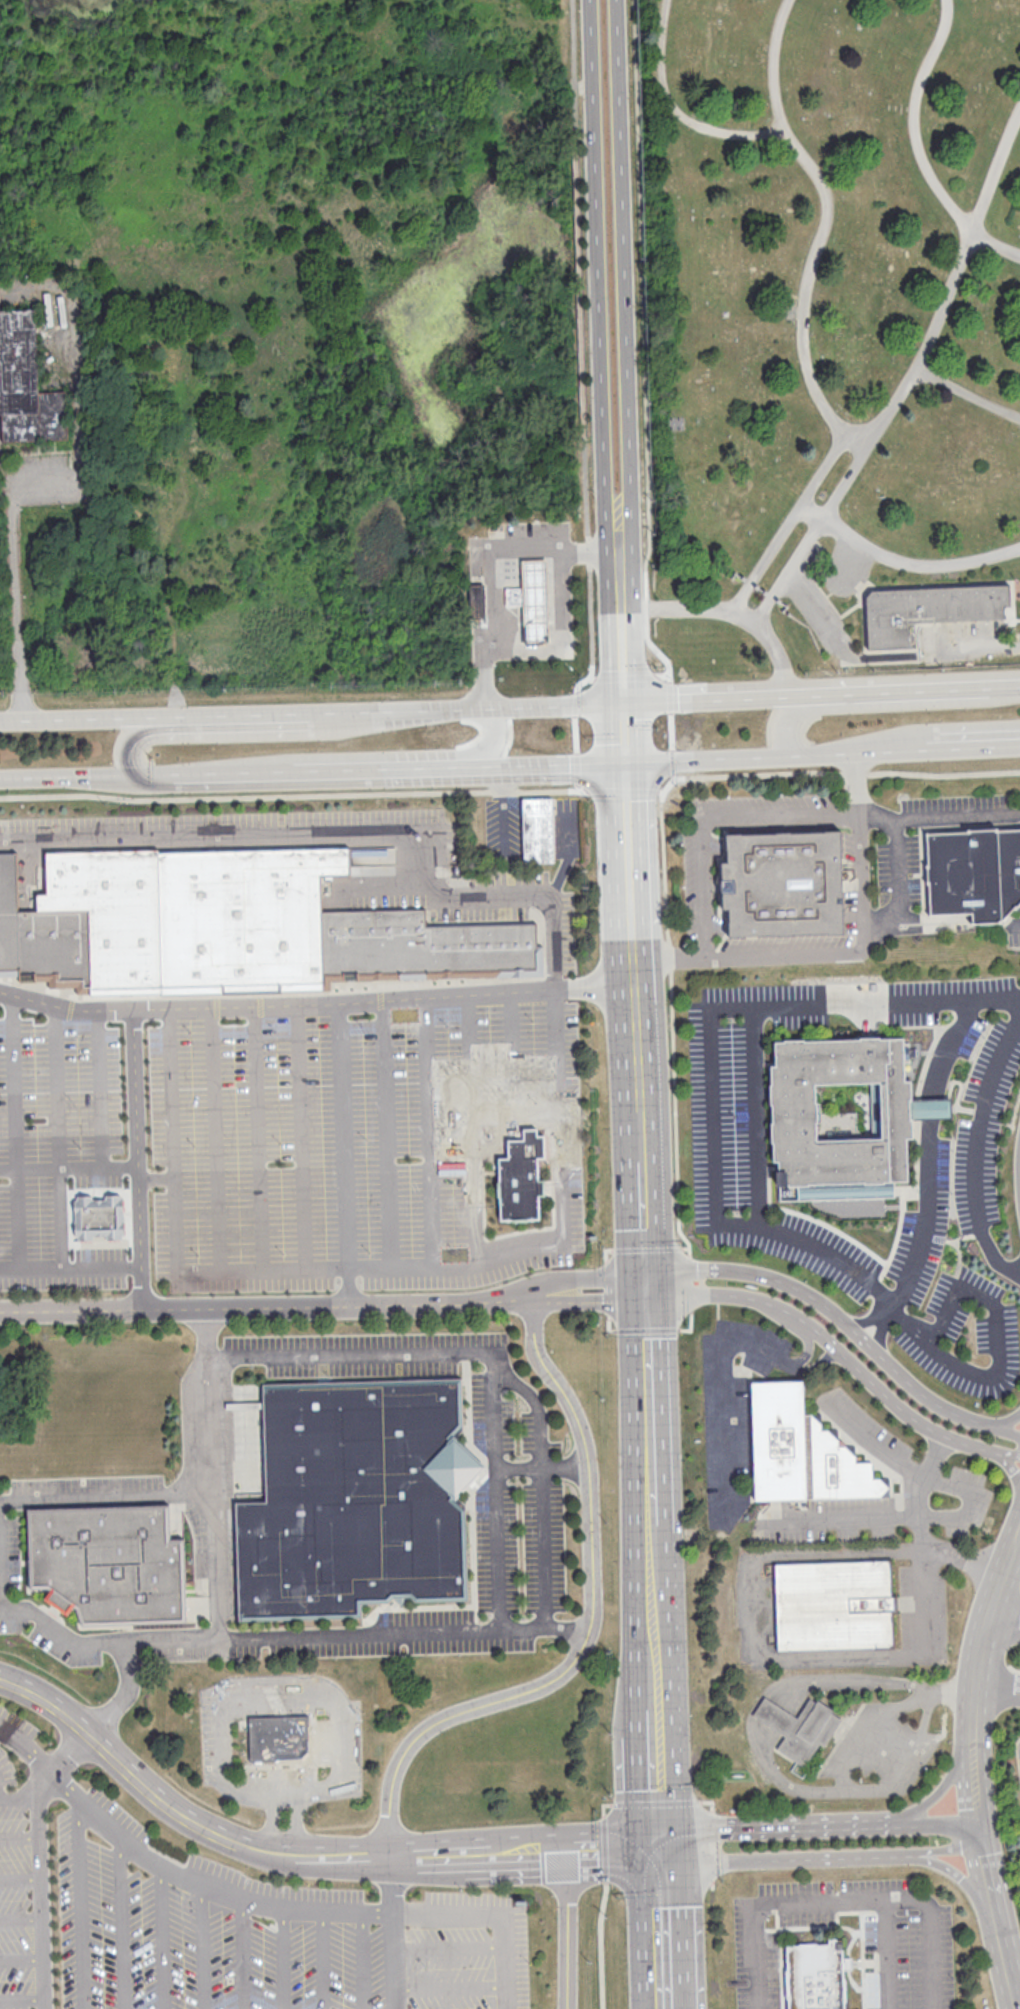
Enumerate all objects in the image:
road: (572, 70)
road: (674, 109)
road: (913, 122)
road: (825, 217)
road: (996, 246)
road: (579, 288)
road: (621, 291)
road: (599, 307)
park: (828, 333)
road: (643, 341)
road: (913, 380)
building: (26, 383)
road: (969, 396)
road: (801, 507)
road: (499, 552)
road: (916, 564)
road: (15, 590)
road: (627, 596)
building: (477, 599)
building: (535, 600)
road: (821, 611)
building: (928, 611)
road: (728, 615)
road: (590, 617)
road: (560, 640)
road: (981, 646)
road: (625, 654)
road: (481, 676)
road: (1014, 682)
road: (669, 687)
road: (816, 691)
traffic signals: (626, 700)
road: (550, 703)
road: (882, 704)
road: (400, 706)
road: (242, 711)
road: (79, 715)
road: (947, 730)
road: (626, 731)
road: (497, 735)
road: (129, 740)
road: (950, 749)
road: (836, 753)
road: (709, 758)
traffic signals: (627, 762)
road: (553, 766)
road: (386, 772)
road: (854, 772)
road: (943, 773)
road: (217, 776)
road: (71, 778)
traffic signals: (142, 778)
road: (672, 778)
road: (856, 782)
road: (330, 793)
parking lot: (764, 800)
parking lot: (955, 802)
road: (502, 812)
road: (957, 815)
road: (713, 817)
road: (568, 831)
road: (329, 832)
building: (539, 832)
road: (629, 833)
road: (28, 866)
road: (897, 866)
parking lot: (899, 867)
building: (975, 873)
road: (860, 874)
building: (784, 882)
road: (386, 885)
parking lot: (691, 885)
building: (228, 926)
road: (1015, 926)
parking lot: (1014, 937)
road: (551, 941)
parking lot: (786, 942)
road: (634, 953)
road: (789, 953)
road: (670, 957)
parking lot: (932, 996)
road: (317, 1003)
road: (951, 1040)
road: (555, 1049)
road: (512, 1051)
road: (710, 1057)
road: (638, 1058)
parking lot: (736, 1081)
road: (98, 1087)
building: (931, 1108)
road: (930, 1109)
road: (515, 1110)
road: (756, 1115)
building: (796, 1121)
road: (14, 1128)
road: (473, 1128)
road: (428, 1130)
road: (386, 1132)
road: (57, 1133)
road: (343, 1134)
road: (300, 1135)
road: (257, 1136)
road: (640, 1136)
road: (215, 1137)
road: (977, 1146)
parking lot: (292, 1152)
parking lot: (963, 1156)
road: (137, 1158)
road: (68, 1165)
road: (927, 1165)
building: (521, 1177)
road: (156, 1178)
road: (642, 1217)
building: (99, 1218)
parking lot: (807, 1249)
road: (70, 1262)
road: (305, 1266)
road: (912, 1267)
road: (689, 1269)
traffic signals: (645, 1275)
road: (588, 1277)
road: (645, 1285)
traffic signals: (646, 1296)
road: (589, 1300)
road: (267, 1307)
parking lot: (967, 1309)
road: (882, 1316)
road: (1002, 1320)
road: (843, 1324)
road: (823, 1341)
road: (490, 1351)
road: (806, 1353)
road: (811, 1364)
road: (725, 1401)
parking lot: (732, 1407)
road: (649, 1410)
road: (1001, 1421)
parking lot: (869, 1425)
building: (801, 1449)
road: (995, 1453)
road: (1015, 1461)
road: (542, 1467)
road: (1015, 1471)
road: (212, 1473)
road: (540, 1487)
road: (106, 1498)
building: (359, 1500)
parking lot: (978, 1503)
road: (966, 1506)
parking lot: (842, 1519)
road: (921, 1531)
building: (111, 1563)
building: (833, 1603)
parking lot: (921, 1605)
road: (655, 1615)
road: (52, 1621)
road: (1003, 1623)
road: (589, 1624)
road: (358, 1635)
road: (927, 1653)
road: (279, 1678)
road: (996, 1686)
road: (947, 1693)
road: (125, 1694)
road: (776, 1699)
road: (264, 1705)
building: (775, 1716)
road: (659, 1719)
road: (873, 1725)
building: (809, 1732)
building: (279, 1734)
parking lot: (849, 1739)
parking lot: (886, 1747)
parking lot: (1018, 1755)
road: (905, 1759)
road: (970, 1768)
road: (944, 1785)
road: (662, 1789)
road: (19, 1798)
road: (710, 1801)
road: (655, 1803)
road: (602, 1805)
road: (270, 1820)
road: (293, 1822)
road: (818, 1824)
road: (20, 1835)
road: (711, 1846)
traffic signals: (665, 1847)
road: (604, 1849)
road: (303, 1857)
road: (821, 1858)
road: (42, 1862)
road: (952, 1873)
road: (21, 1879)
road: (712, 1885)
road: (840, 1899)
road: (79, 1903)
road: (264, 1910)
road: (22, 1918)
parking lot: (219, 1918)
road: (121, 1921)
road: (667, 1928)
road: (567, 1929)
road: (394, 1932)
road: (161, 1936)
parking lot: (908, 1941)
road: (600, 1944)
road: (201, 1947)
road: (449, 1947)
road: (888, 1953)
road: (242, 1956)
road: (23, 1958)
road: (283, 1960)
road: (323, 1961)
road: (362, 1962)
building: (817, 1976)
road: (450, 1987)
road: (24, 1999)

